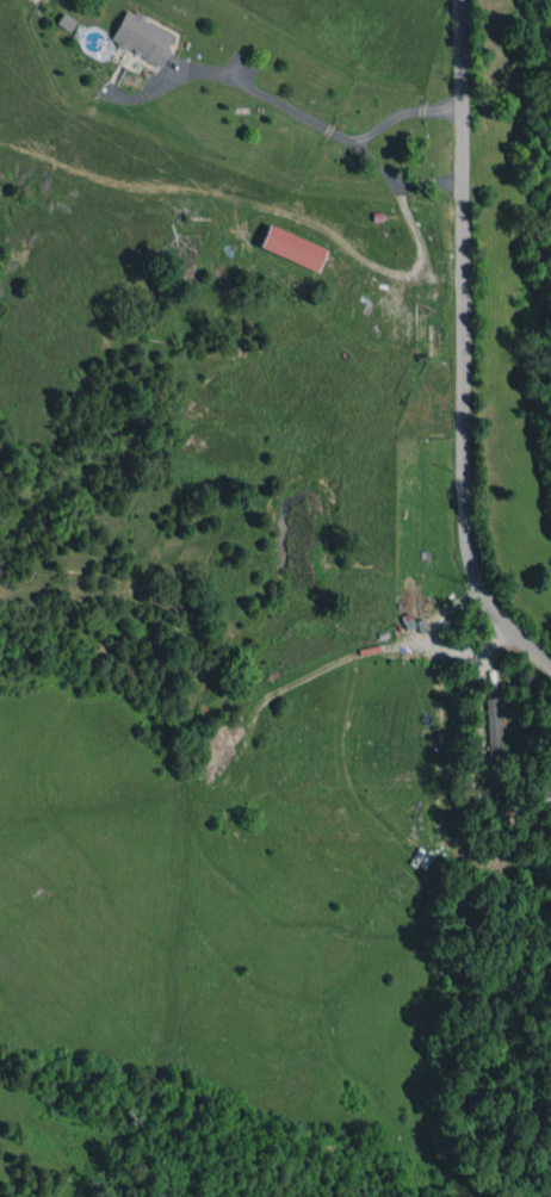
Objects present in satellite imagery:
building: (142, 37)
road: (308, 119)
road: (397, 179)
building: (291, 247)
road: (463, 352)
building: (493, 725)

